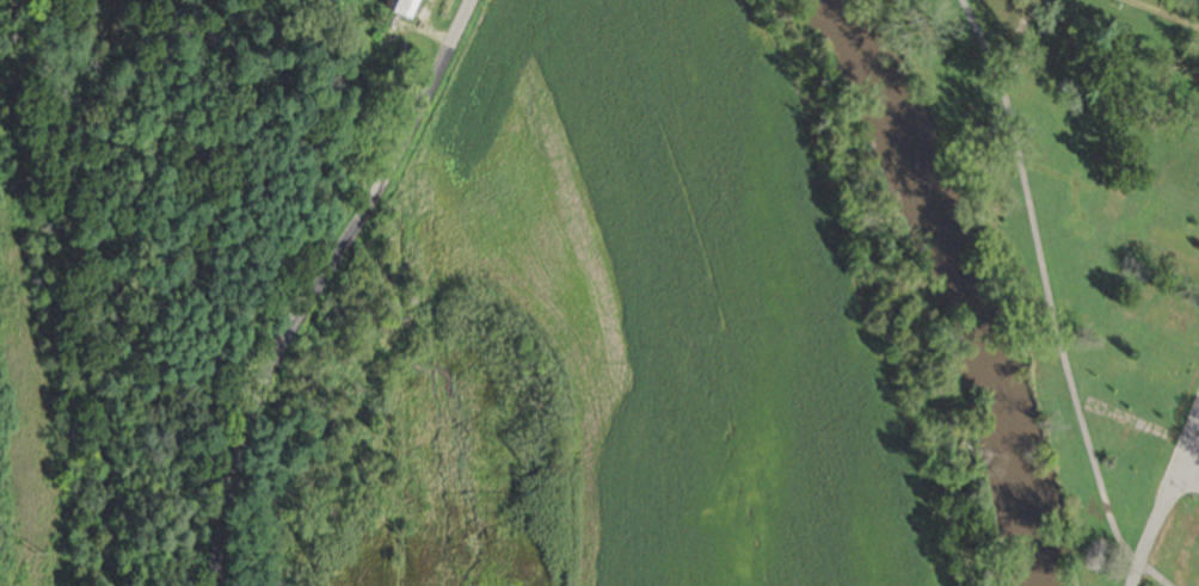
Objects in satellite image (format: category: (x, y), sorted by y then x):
building: (400, 7)
road: (1161, 14)
building: (1198, 175)
river: (957, 280)
road: (318, 283)
crop: (620, 298)
building: (1157, 317)
road: (1191, 477)
road: (1166, 508)

